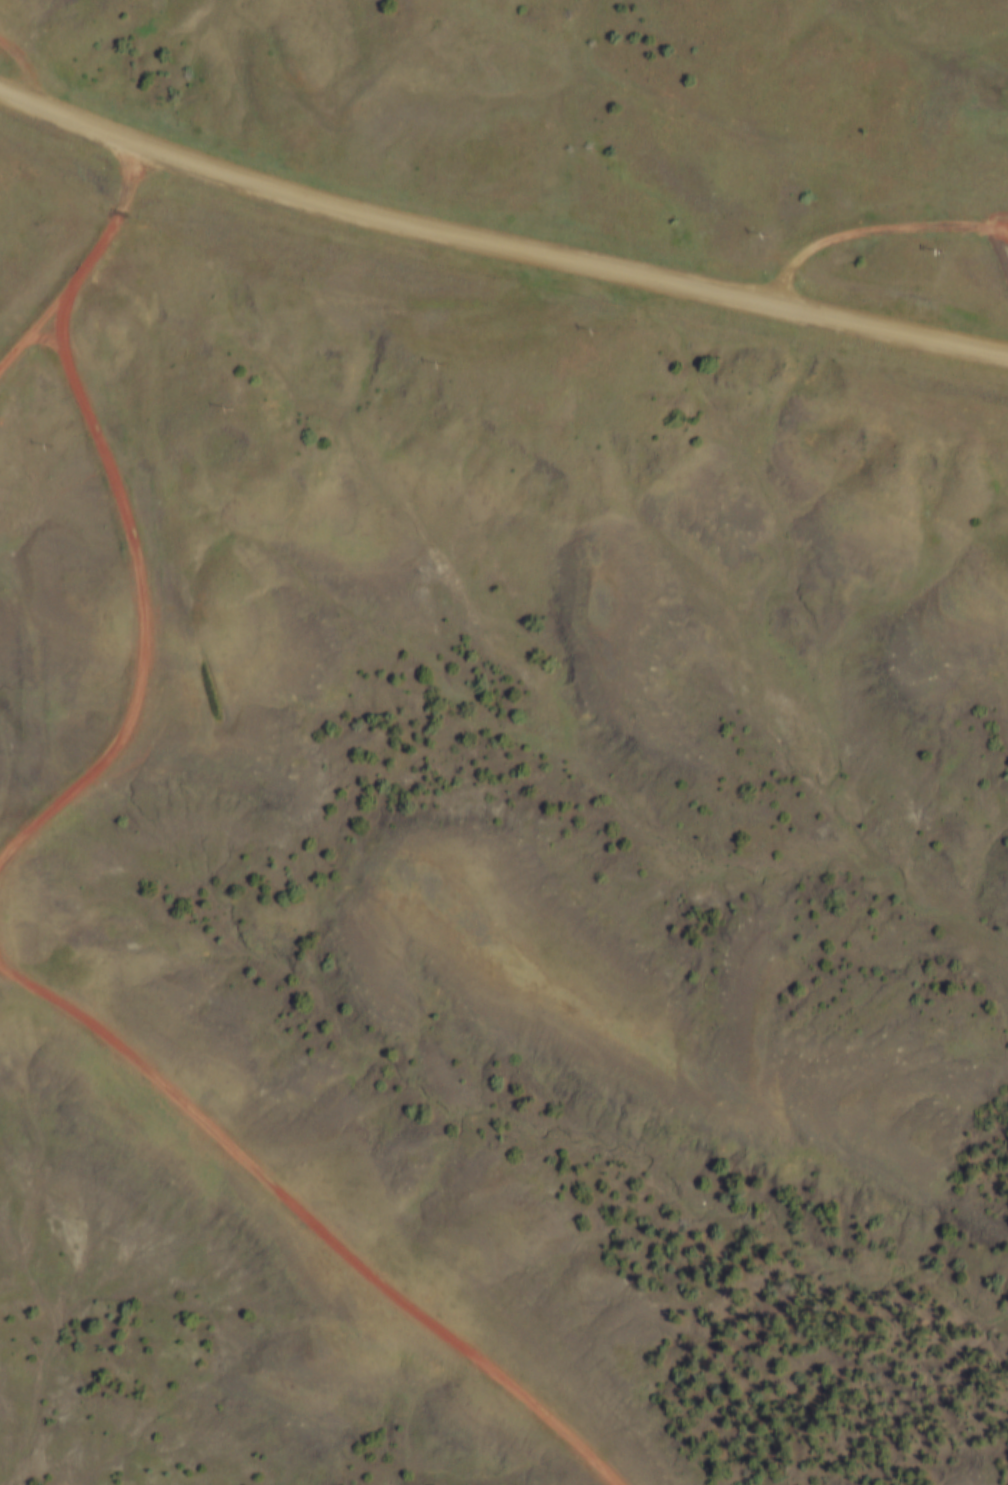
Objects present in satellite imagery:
road: (23, 65)
road: (151, 167)
road: (997, 221)
road: (876, 230)
road: (498, 241)
road: (86, 264)
road: (47, 337)
road: (138, 598)
road: (311, 1219)

